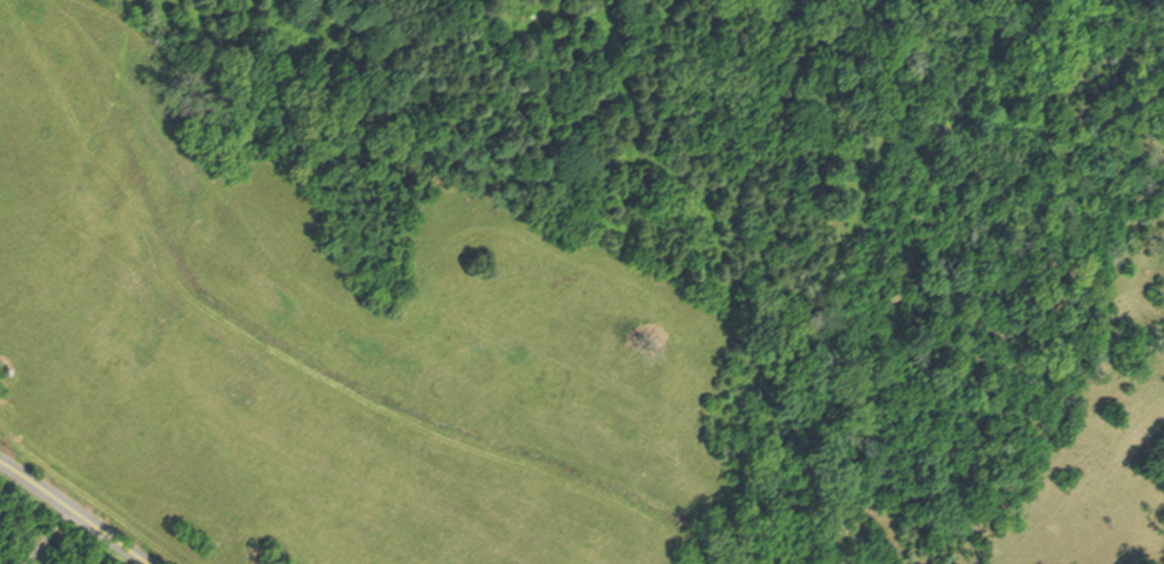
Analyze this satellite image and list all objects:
road: (76, 511)
road: (51, 536)

